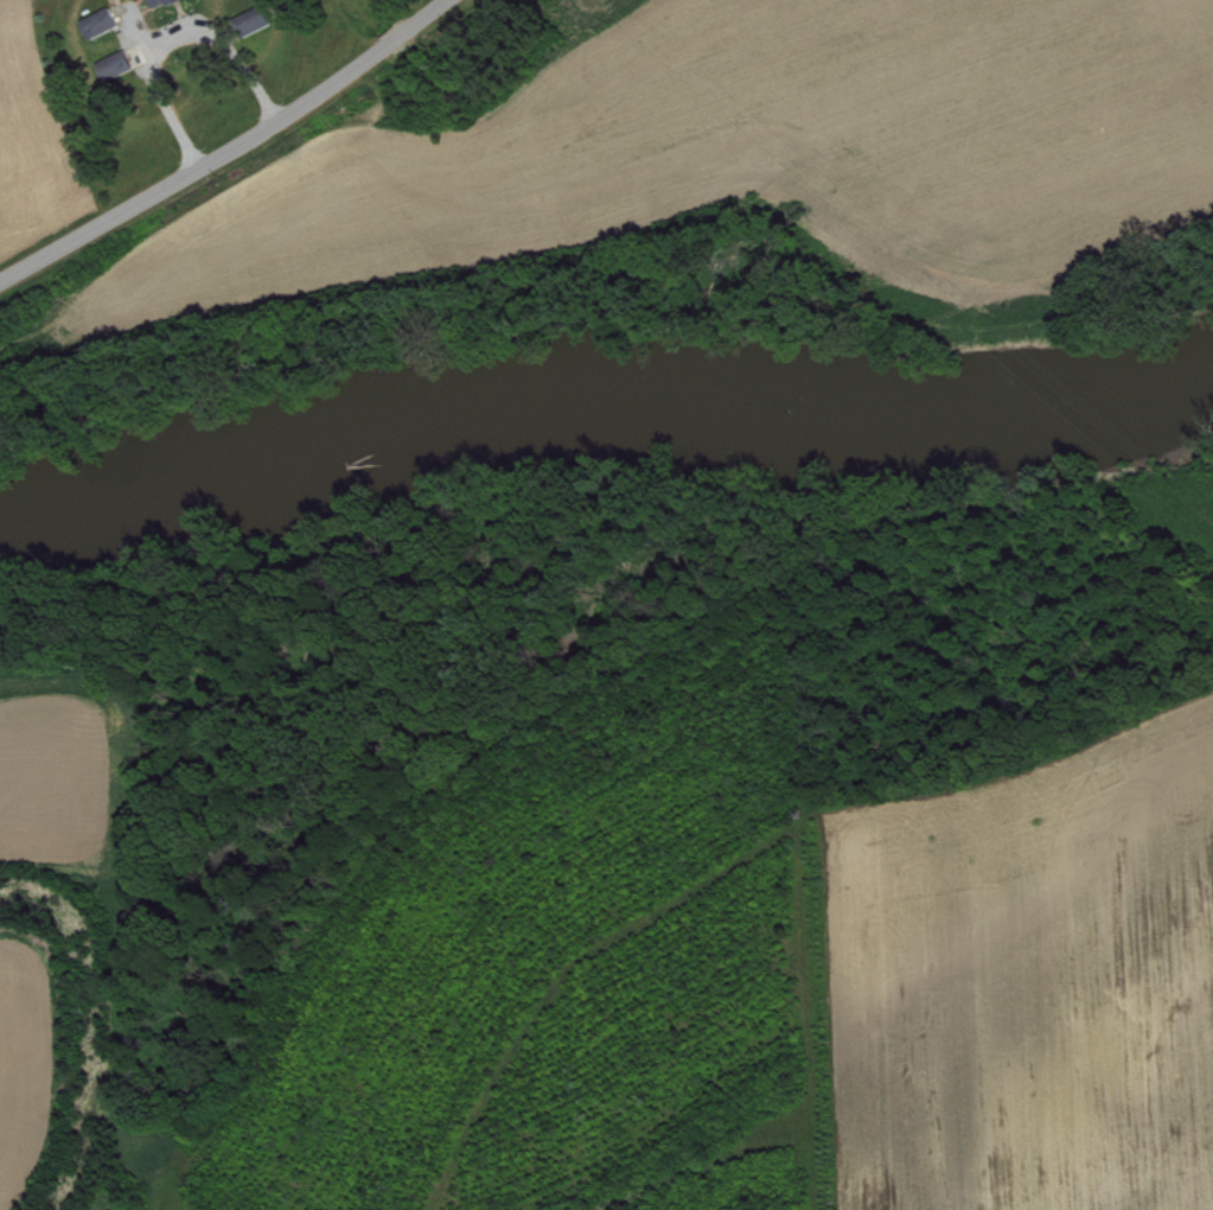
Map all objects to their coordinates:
building: (173, 6)
building: (260, 30)
road: (173, 37)
road: (232, 151)
river: (604, 400)

